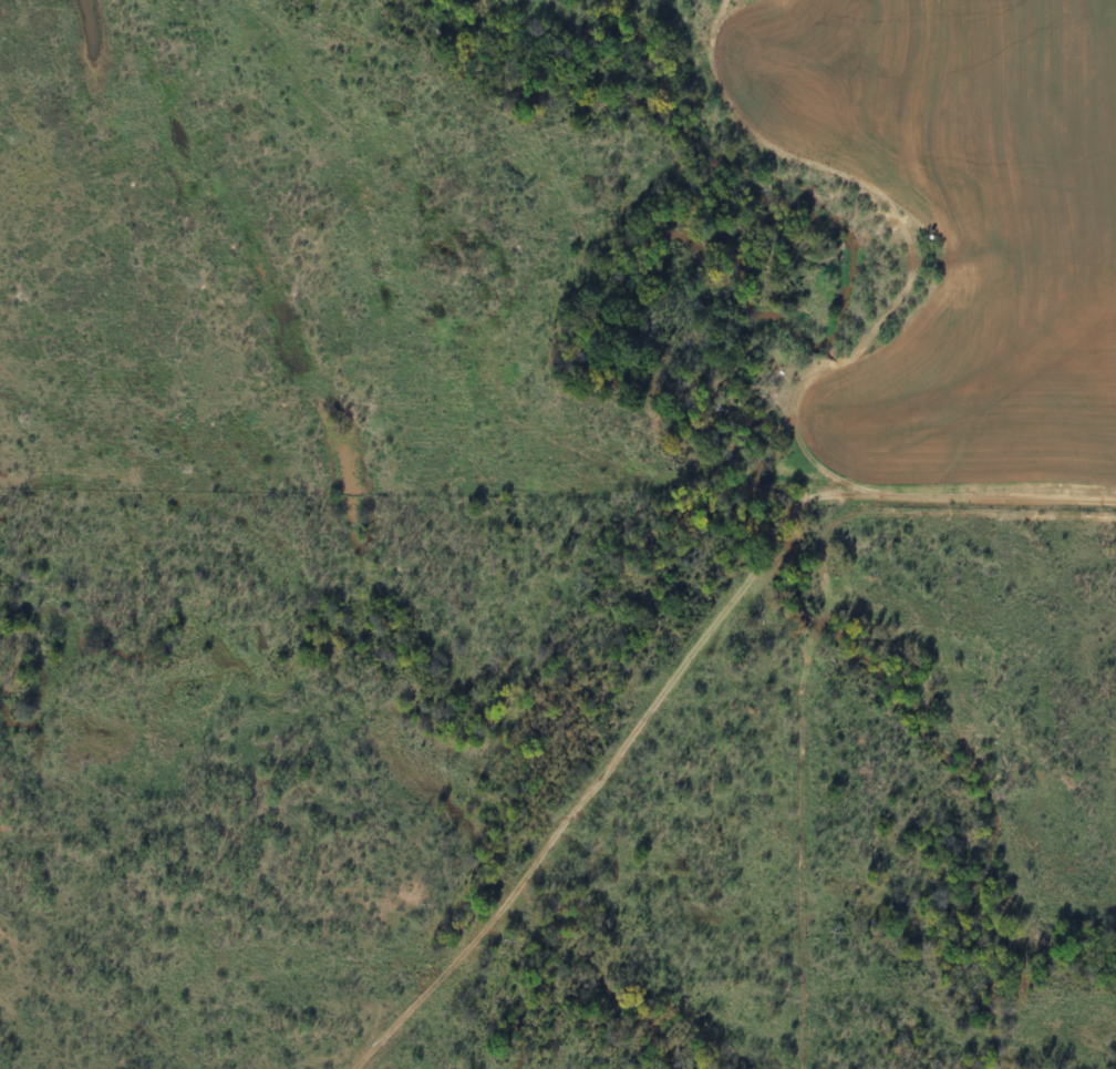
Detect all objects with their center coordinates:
road: (896, 479)
road: (502, 801)

